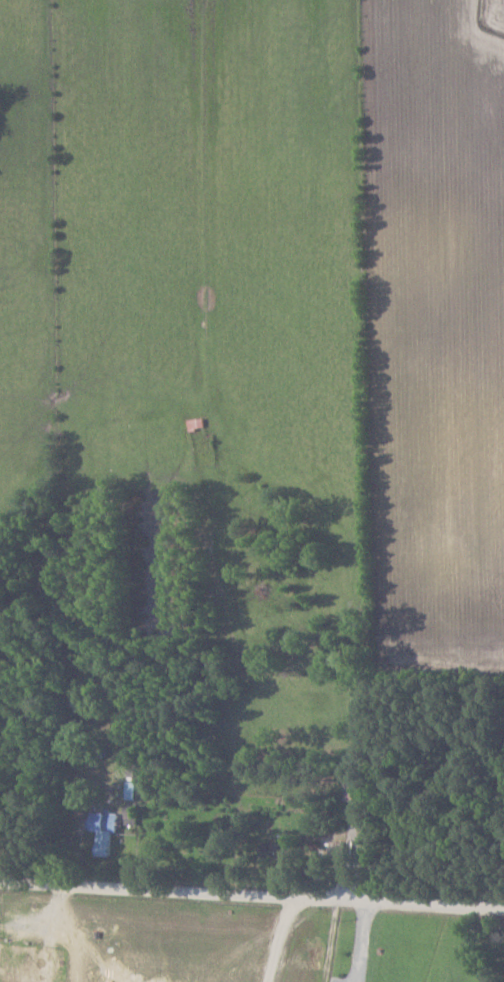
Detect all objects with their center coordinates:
building: (356, 790)
building: (107, 830)
building: (341, 848)
road: (252, 888)
road: (361, 938)

